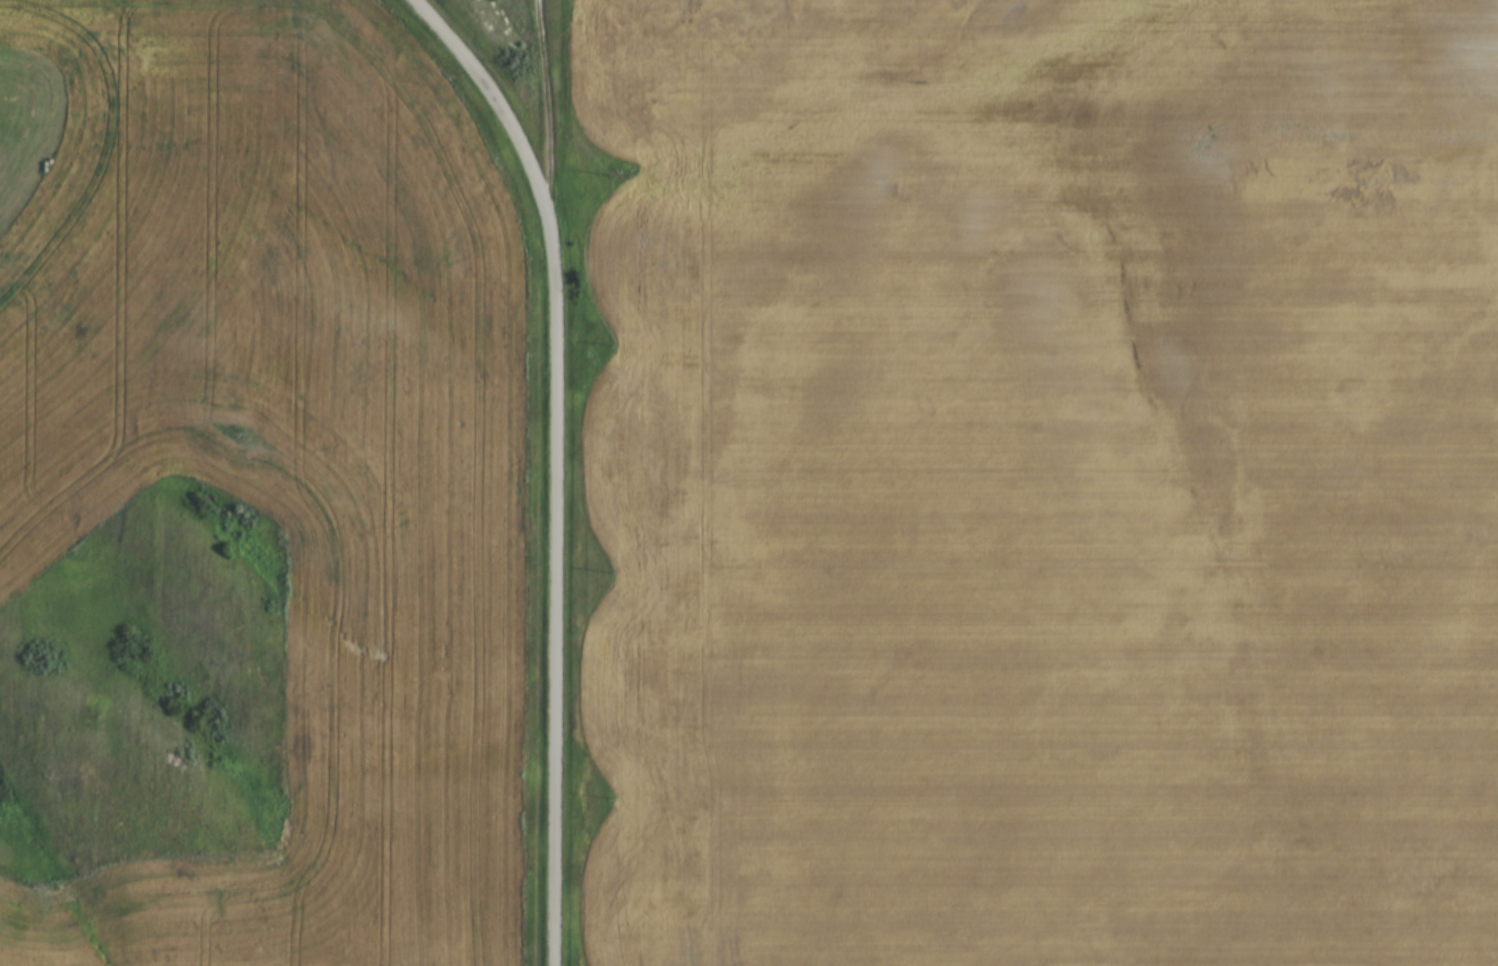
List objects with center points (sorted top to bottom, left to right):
road: (499, 104)
road: (545, 113)
road: (555, 596)

